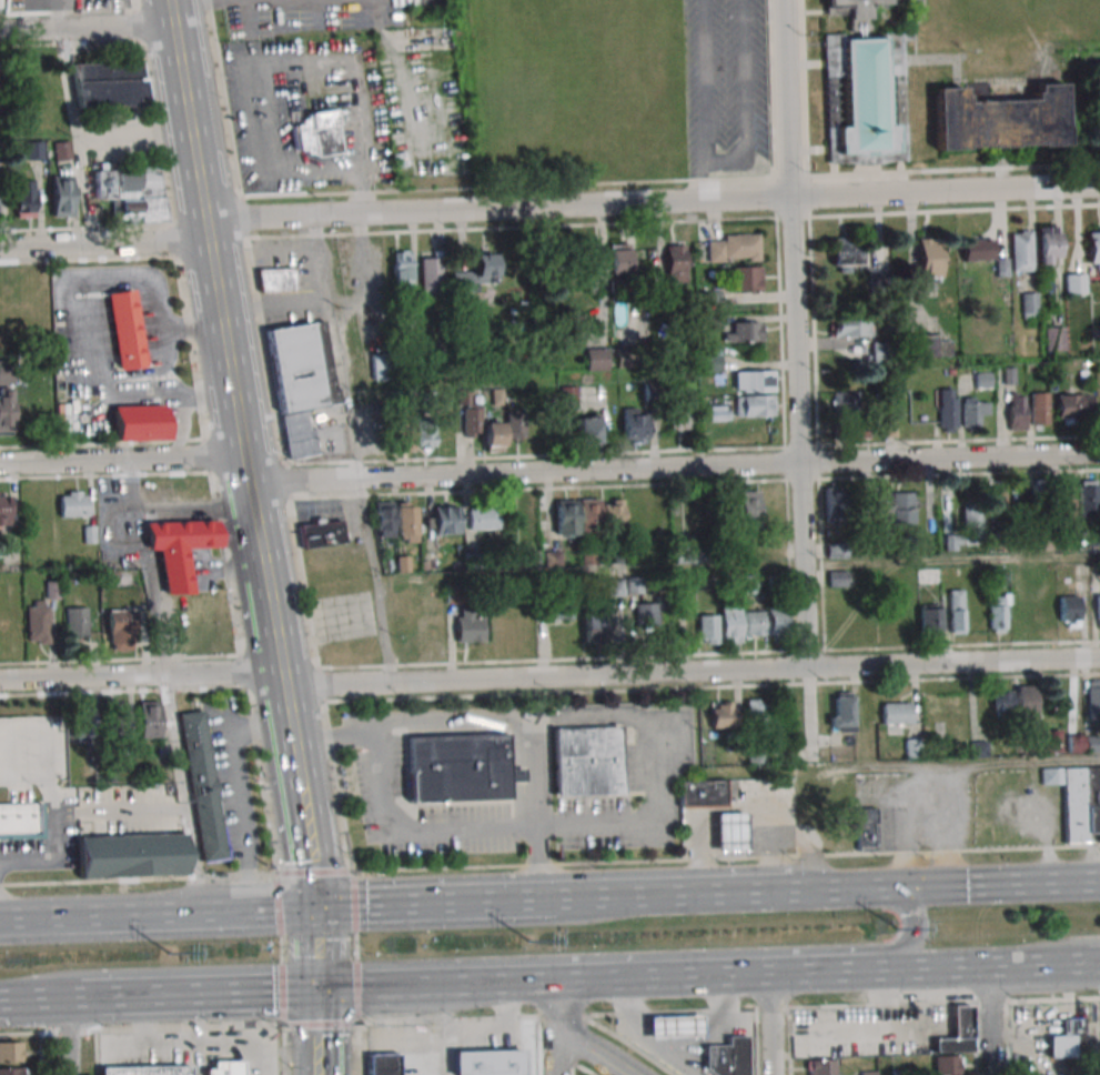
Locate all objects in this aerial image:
road: (171, 0)
parking lot: (401, 10)
road: (26, 16)
parking lot: (292, 16)
road: (84, 27)
road: (349, 57)
road: (405, 73)
building: (109, 84)
building: (864, 89)
road: (744, 93)
road: (706, 103)
parking lot: (423, 118)
building: (1000, 119)
road: (75, 122)
building: (317, 133)
parking lot: (261, 135)
building: (33, 150)
building: (62, 150)
road: (262, 163)
building: (131, 193)
building: (62, 195)
building: (23, 199)
road: (548, 209)
building: (1047, 244)
building: (733, 248)
building: (978, 249)
building: (1021, 250)
building: (1093, 250)
building: (846, 254)
building: (617, 259)
building: (930, 260)
building: (675, 263)
building: (484, 264)
building: (589, 264)
building: (401, 269)
building: (431, 271)
building: (745, 279)
building: (275, 280)
building: (1074, 283)
building: (1029, 305)
road: (275, 310)
building: (850, 326)
building: (127, 329)
building: (745, 331)
building: (1053, 339)
building: (925, 345)
building: (879, 351)
building: (596, 359)
building: (713, 359)
building: (381, 366)
building: (300, 381)
building: (753, 381)
road: (797, 381)
road: (234, 390)
building: (652, 392)
building: (7, 396)
building: (845, 401)
building: (754, 405)
building: (1073, 408)
building: (1039, 409)
building: (947, 410)
building: (718, 412)
building: (973, 412)
building: (1016, 412)
building: (678, 416)
building: (142, 422)
building: (481, 425)
building: (514, 425)
building: (634, 425)
building: (889, 429)
building: (588, 431)
building: (856, 431)
building: (425, 434)
building: (404, 435)
road: (354, 449)
road: (122, 460)
road: (675, 469)
road: (131, 474)
building: (1039, 495)
building: (1067, 495)
building: (1088, 498)
building: (997, 500)
building: (73, 503)
building: (880, 503)
building: (835, 504)
building: (748, 505)
road: (199, 508)
building: (902, 508)
building: (4, 509)
road: (127, 512)
building: (612, 512)
building: (577, 516)
building: (383, 519)
building: (483, 519)
building: (445, 520)
building: (406, 521)
building: (968, 529)
building: (321, 533)
building: (181, 549)
building: (837, 550)
building: (552, 557)
building: (531, 559)
road: (147, 566)
building: (1000, 575)
building: (837, 579)
building: (615, 586)
building: (557, 609)
building: (1096, 609)
building: (1068, 611)
building: (646, 613)
building: (998, 613)
building: (1045, 614)
building: (36, 622)
building: (75, 622)
building: (776, 622)
building: (929, 622)
building: (754, 623)
building: (468, 625)
building: (730, 625)
building: (593, 626)
building: (706, 627)
building: (120, 629)
road: (549, 677)
building: (1092, 699)
building: (1002, 701)
building: (1025, 705)
building: (840, 712)
building: (896, 713)
building: (721, 714)
building: (758, 715)
building: (148, 719)
building: (81, 721)
building: (118, 721)
road: (336, 734)
building: (1049, 741)
building: (1082, 744)
building: (586, 761)
road: (966, 763)
building: (457, 768)
building: (202, 785)
road: (182, 793)
building: (700, 794)
building: (1077, 800)
road: (176, 810)
road: (112, 811)
road: (54, 816)
building: (850, 817)
building: (21, 822)
road: (584, 824)
building: (727, 832)
road: (310, 844)
building: (131, 855)
road: (725, 858)
road: (311, 871)
road: (137, 878)
road: (940, 885)
traffic signals: (898, 887)
road: (686, 894)
road: (578, 898)
road: (352, 901)
road: (506, 901)
road: (275, 904)
road: (381, 905)
traffic signals: (314, 907)
road: (157, 912)
power tower: (898, 931)
power tower: (528, 944)
road: (354, 946)
road: (1057, 947)
road: (314, 948)
road: (279, 950)
road: (657, 955)
power tower: (170, 956)
road: (1099, 962)
road: (1043, 964)
road: (930, 968)
road: (355, 975)
road: (713, 975)
road: (454, 985)
road: (335, 989)
traffic signals: (315, 991)
road: (212, 993)
road: (281, 993)
road: (97, 996)
road: (74, 997)
road: (32, 998)
road: (355, 1006)
road: (549, 1015)
road: (990, 1021)
road: (774, 1024)
road: (554, 1027)
building: (673, 1027)
road: (442, 1031)
road: (316, 1032)
building: (957, 1032)
road: (195, 1034)
road: (67, 1035)
building: (1068, 1039)
road: (356, 1048)
road: (282, 1049)
road: (594, 1049)
building: (11, 1052)
building: (725, 1057)
building: (383, 1063)
building: (488, 1063)
building: (946, 1065)
building: (821, 1066)
building: (224, 1067)
building: (145, 1069)
building: (12, 1071)

